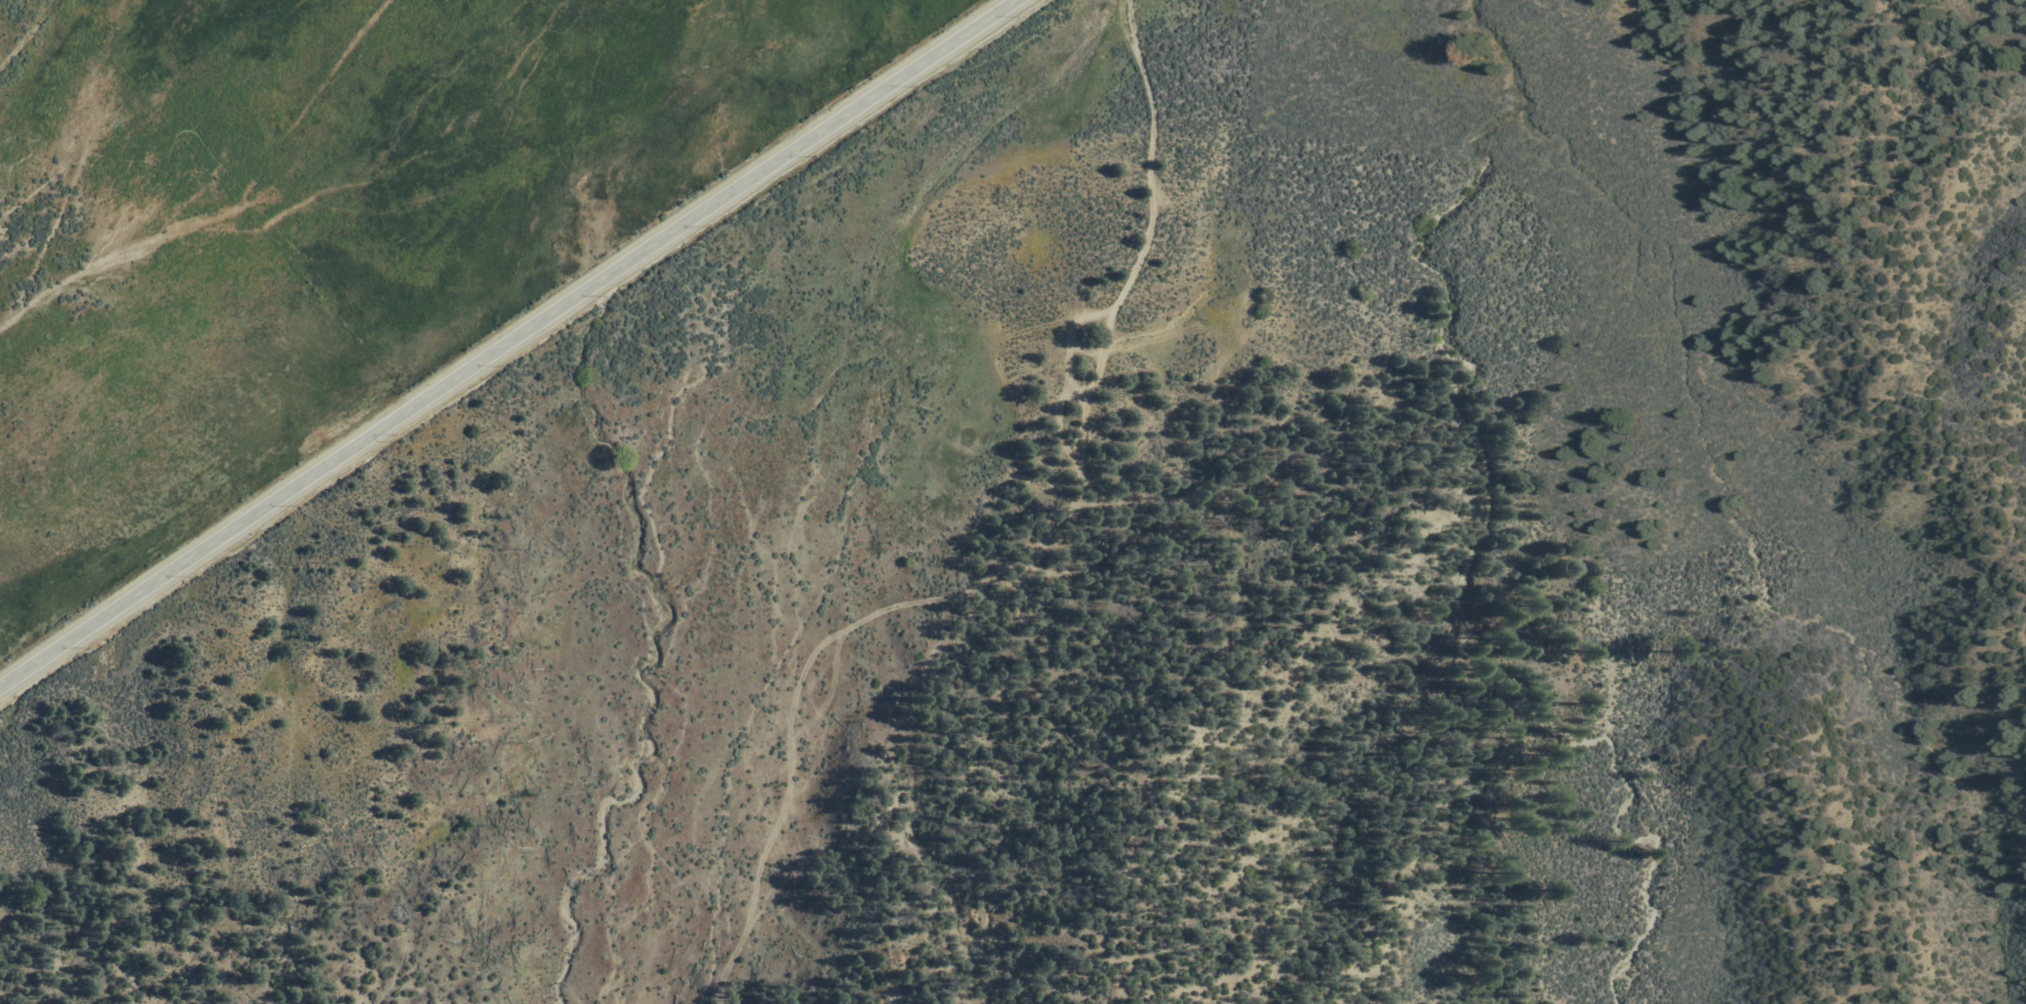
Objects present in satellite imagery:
road: (33, 43)
road: (507, 342)
road: (1054, 532)

